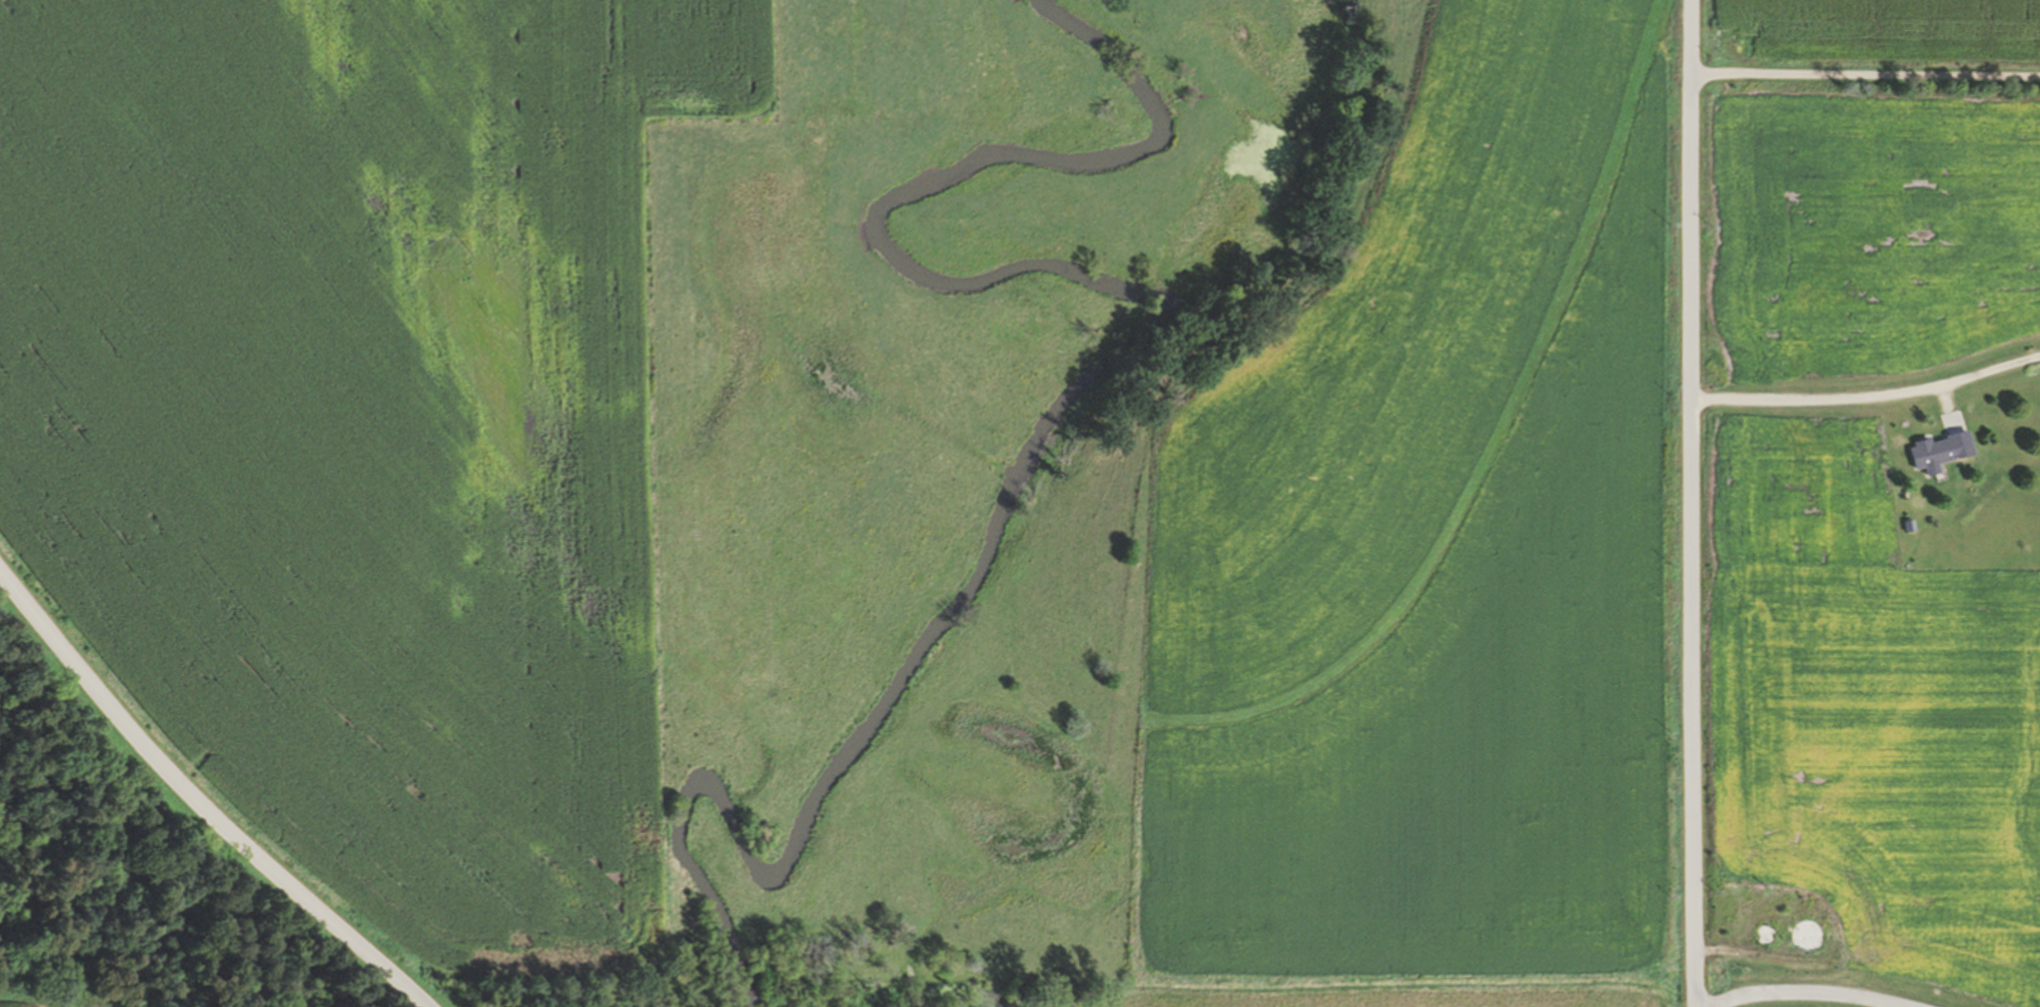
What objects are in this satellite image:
road: (1865, 71)
river: (1112, 383)
road: (1867, 396)
building: (1943, 451)
road: (1690, 503)
road: (198, 803)
building: (1771, 934)
building: (1813, 935)
road: (1799, 1002)

